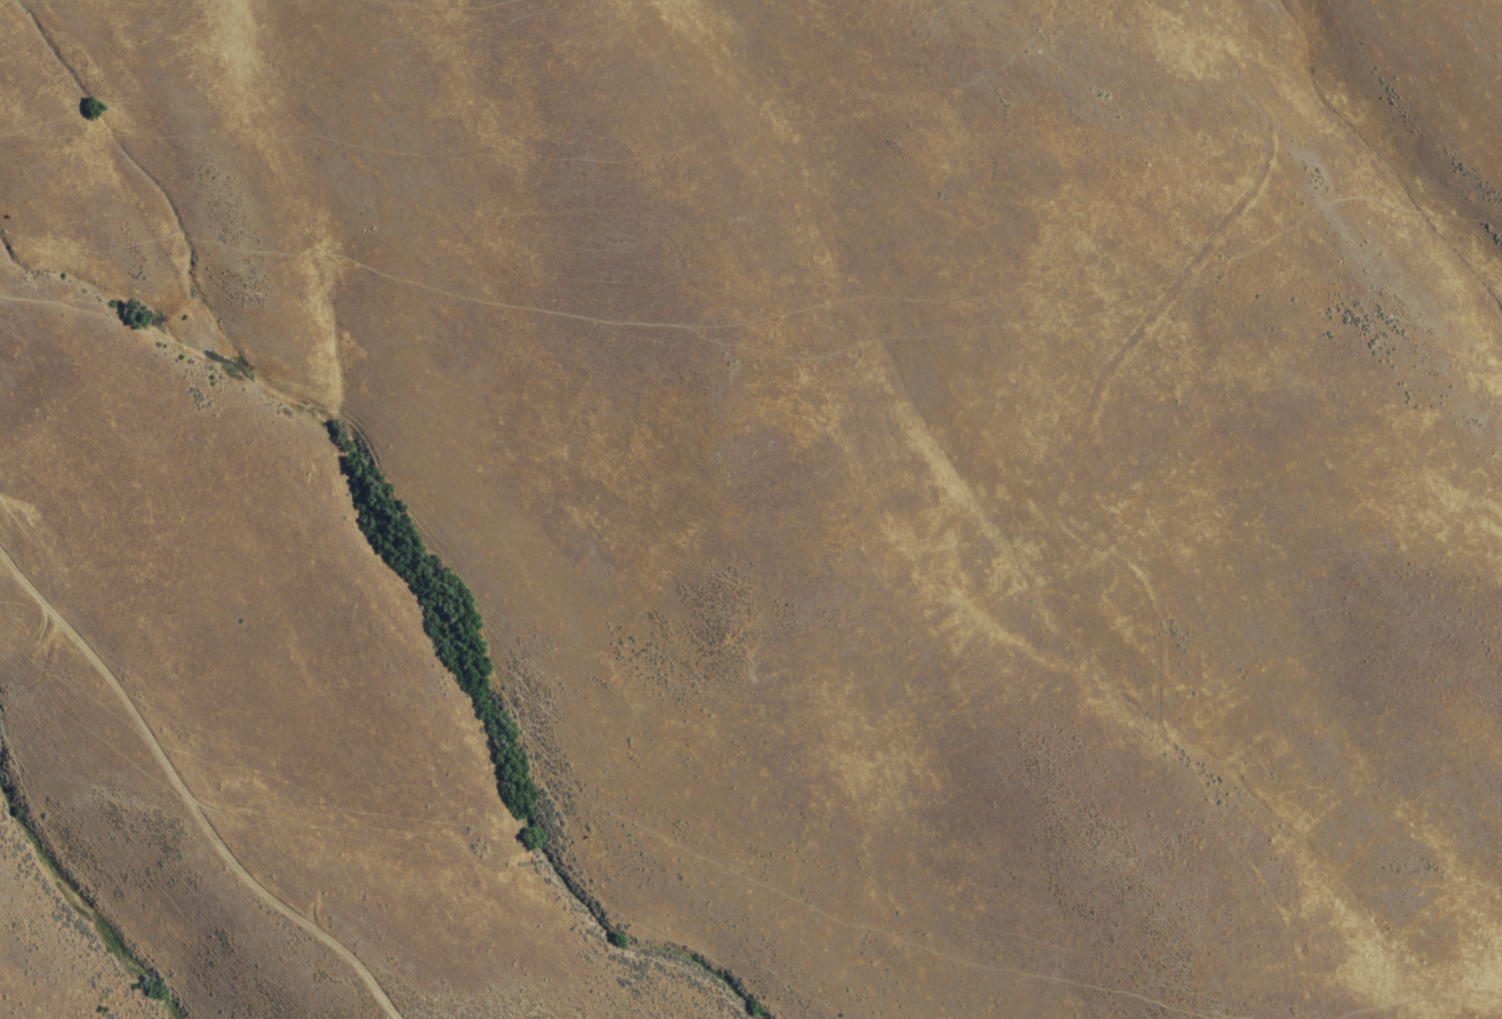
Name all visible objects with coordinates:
road: (190, 796)

